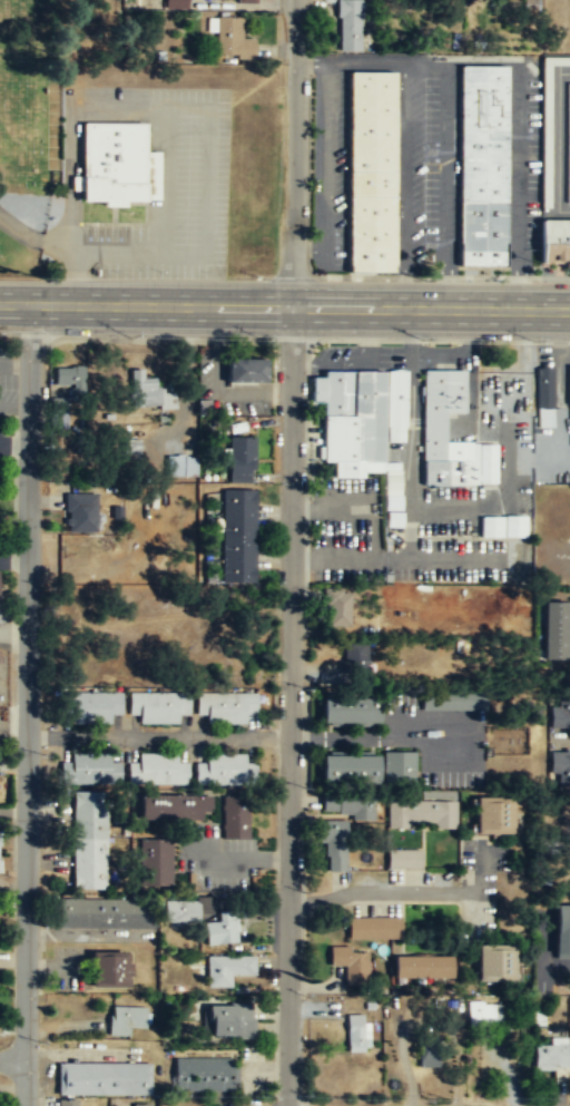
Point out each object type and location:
building: (245, 1)
building: (176, 4)
building: (346, 25)
building: (230, 38)
building: (564, 60)
road: (309, 61)
road: (364, 61)
road: (425, 61)
road: (483, 61)
road: (557, 141)
building: (568, 141)
road: (292, 154)
road: (206, 155)
road: (325, 155)
road: (519, 160)
road: (446, 162)
road: (403, 163)
building: (115, 164)
park: (132, 164)
building: (482, 164)
road: (67, 166)
parking lot: (426, 166)
parking lot: (523, 168)
building: (371, 170)
parking lot: (330, 172)
parking lot: (175, 194)
road: (29, 235)
building: (554, 241)
road: (307, 248)
road: (519, 285)
road: (445, 286)
road: (403, 287)
road: (145, 306)
road: (430, 310)
street lamp: (533, 341)
building: (246, 372)
building: (71, 379)
building: (149, 395)
building: (544, 398)
building: (358, 417)
building: (433, 428)
building: (127, 458)
building: (242, 460)
building: (179, 467)
building: (82, 513)
building: (501, 527)
building: (238, 537)
building: (336, 609)
building: (557, 632)
building: (355, 658)
building: (453, 702)
road: (27, 704)
building: (226, 706)
building: (95, 707)
building: (158, 707)
road: (289, 707)
building: (351, 711)
building: (560, 712)
road: (158, 736)
road: (380, 738)
building: (560, 767)
building: (400, 769)
building: (89, 770)
building: (350, 770)
building: (158, 771)
building: (224, 771)
building: (347, 806)
building: (174, 809)
building: (421, 815)
building: (493, 818)
building: (236, 819)
building: (89, 841)
building: (334, 846)
building: (156, 861)
building: (404, 861)
road: (380, 890)
building: (180, 913)
building: (106, 914)
building: (373, 928)
building: (222, 930)
building: (562, 932)
building: (350, 961)
building: (495, 965)
building: (422, 968)
building: (111, 970)
building: (227, 970)
building: (485, 1017)
building: (126, 1020)
building: (230, 1021)
building: (356, 1035)
building: (550, 1054)
building: (427, 1055)
road: (13, 1058)
building: (203, 1076)
building: (104, 1080)
building: (70, 1104)
building: (142, 1104)
building: (235, 1105)

